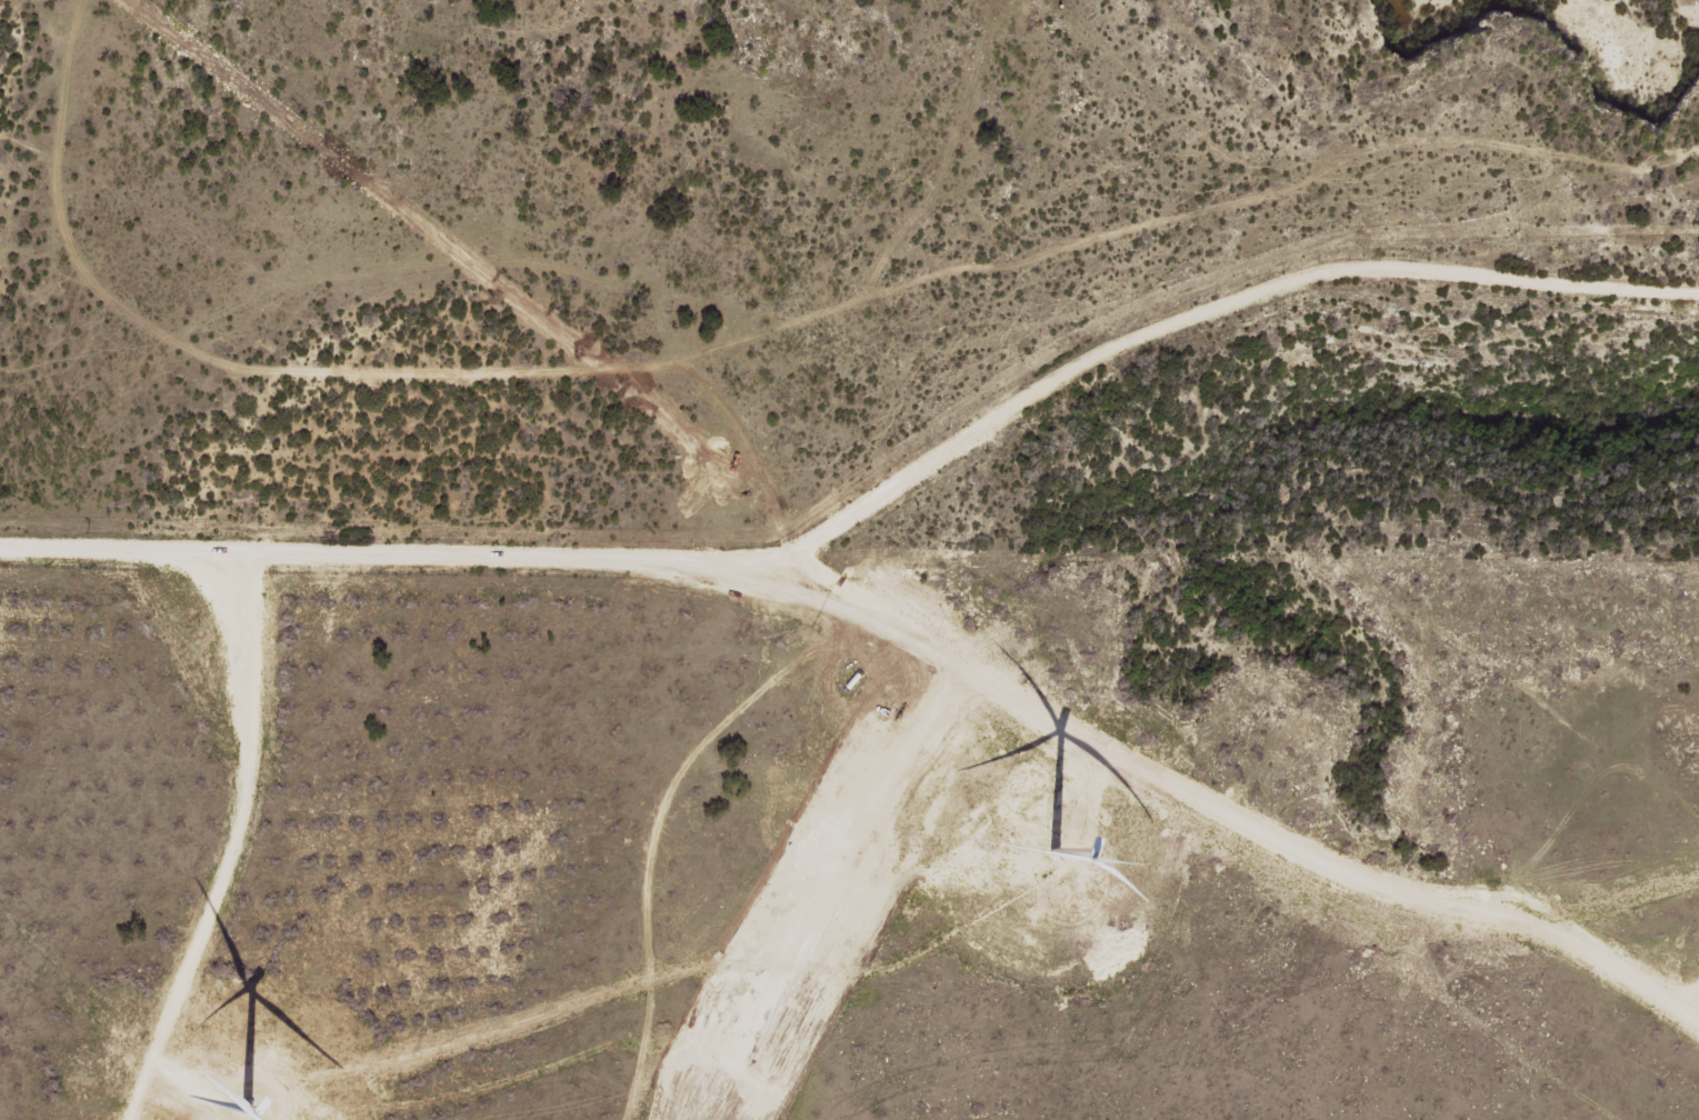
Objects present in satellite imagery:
road: (873, 506)
road: (869, 538)
road: (743, 827)
wind turbine: (1057, 842)
wind turbine: (241, 1087)

